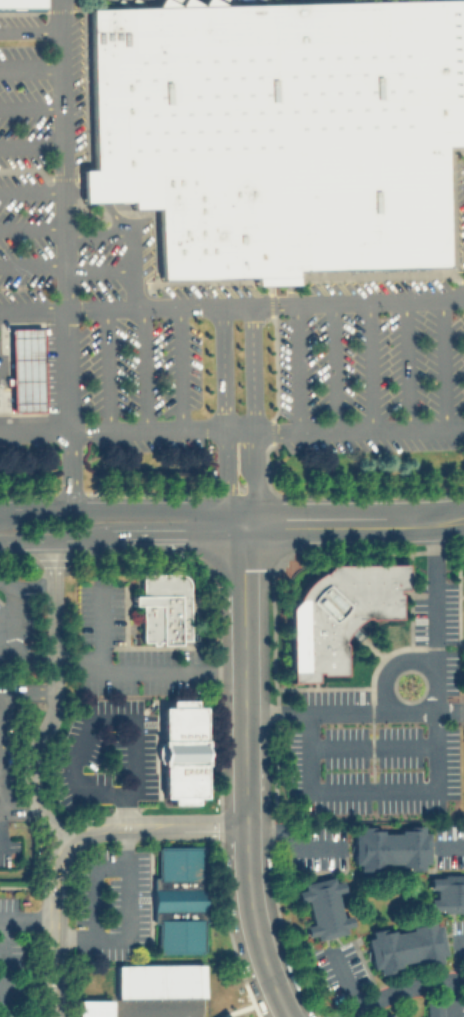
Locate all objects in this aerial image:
building: (21, 3)
road: (30, 32)
building: (463, 46)
parking lot: (463, 46)
road: (31, 67)
road: (31, 109)
building: (277, 132)
parking lot: (35, 139)
road: (31, 145)
road: (71, 187)
road: (94, 189)
road: (32, 193)
road: (115, 220)
road: (32, 229)
road: (96, 238)
road: (65, 254)
road: (129, 254)
road: (32, 265)
road: (97, 273)
road: (130, 290)
road: (232, 305)
parking lot: (138, 346)
road: (33, 353)
parking lot: (367, 364)
road: (436, 364)
road: (401, 366)
road: (331, 367)
road: (366, 367)
road: (293, 368)
building: (24, 370)
gas station: (24, 370)
road: (33, 370)
road: (178, 370)
road: (105, 371)
road: (143, 371)
road: (34, 392)
road: (34, 410)
road: (252, 415)
road: (221, 416)
road: (232, 433)
road: (141, 508)
road: (20, 510)
road: (352, 521)
road: (120, 532)
road: (38, 584)
building: (162, 606)
building: (336, 614)
road: (434, 615)
road: (14, 636)
road: (390, 666)
road: (128, 676)
road: (27, 692)
road: (55, 701)
road: (353, 711)
road: (101, 716)
road: (372, 745)
building: (181, 751)
road: (245, 773)
road: (372, 788)
road: (17, 807)
road: (156, 825)
road: (291, 839)
road: (449, 845)
building: (389, 847)
building: (179, 863)
building: (445, 892)
building: (177, 898)
building: (322, 907)
road: (57, 928)
building: (179, 935)
road: (113, 937)
road: (459, 938)
road: (1, 942)
building: (404, 945)
road: (345, 977)
building: (158, 981)
road: (400, 990)
road: (452, 998)
building: (93, 1008)
building: (433, 1009)
building: (389, 1014)

